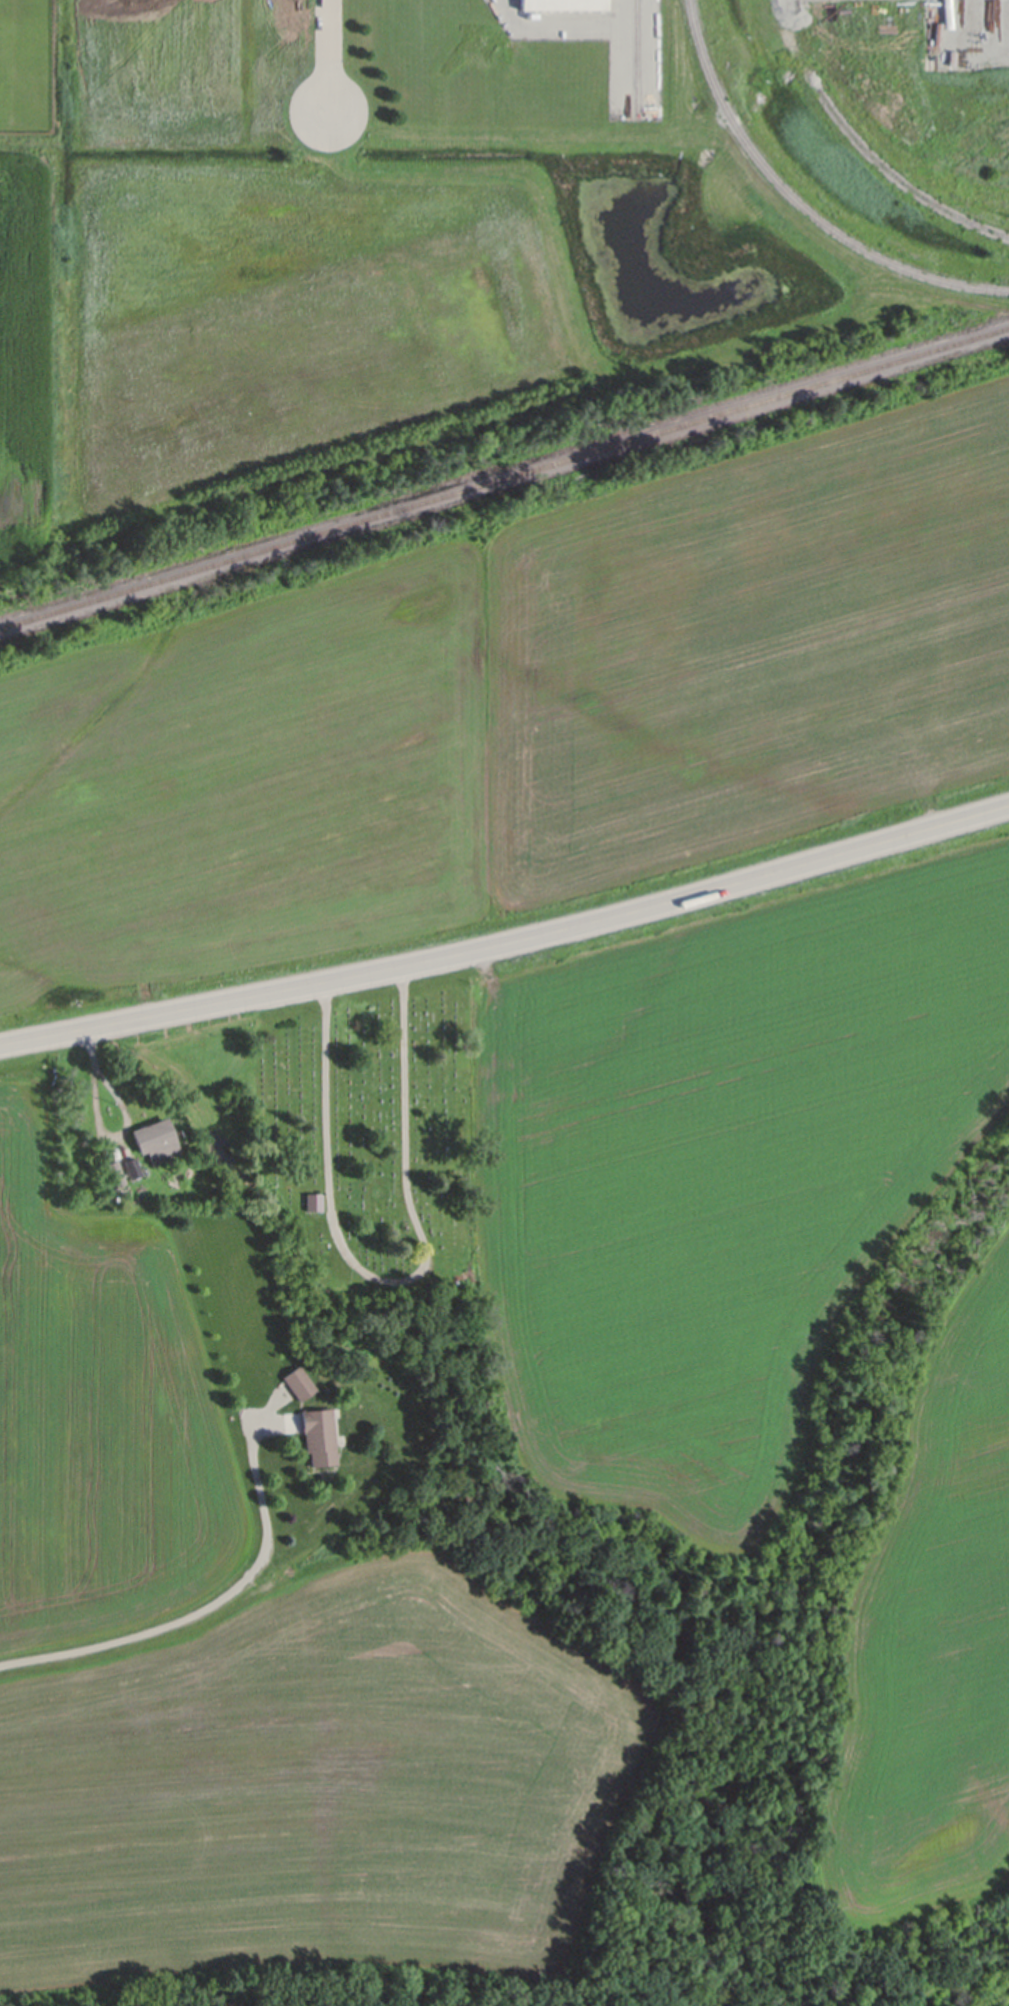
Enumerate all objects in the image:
building: (564, 5)
road: (324, 55)
railway: (632, 56)
railway: (861, 149)
railway: (795, 203)
crop: (21, 355)
railway: (504, 477)
crop: (517, 721)
road: (508, 944)
building: (156, 1144)
crop: (722, 1161)
park: (375, 1167)
building: (132, 1171)
building: (113, 1177)
building: (313, 1205)
road: (395, 1281)
crop: (93, 1365)
building: (297, 1386)
building: (318, 1439)
road: (208, 1609)
crop: (928, 1626)
crop: (309, 1770)

